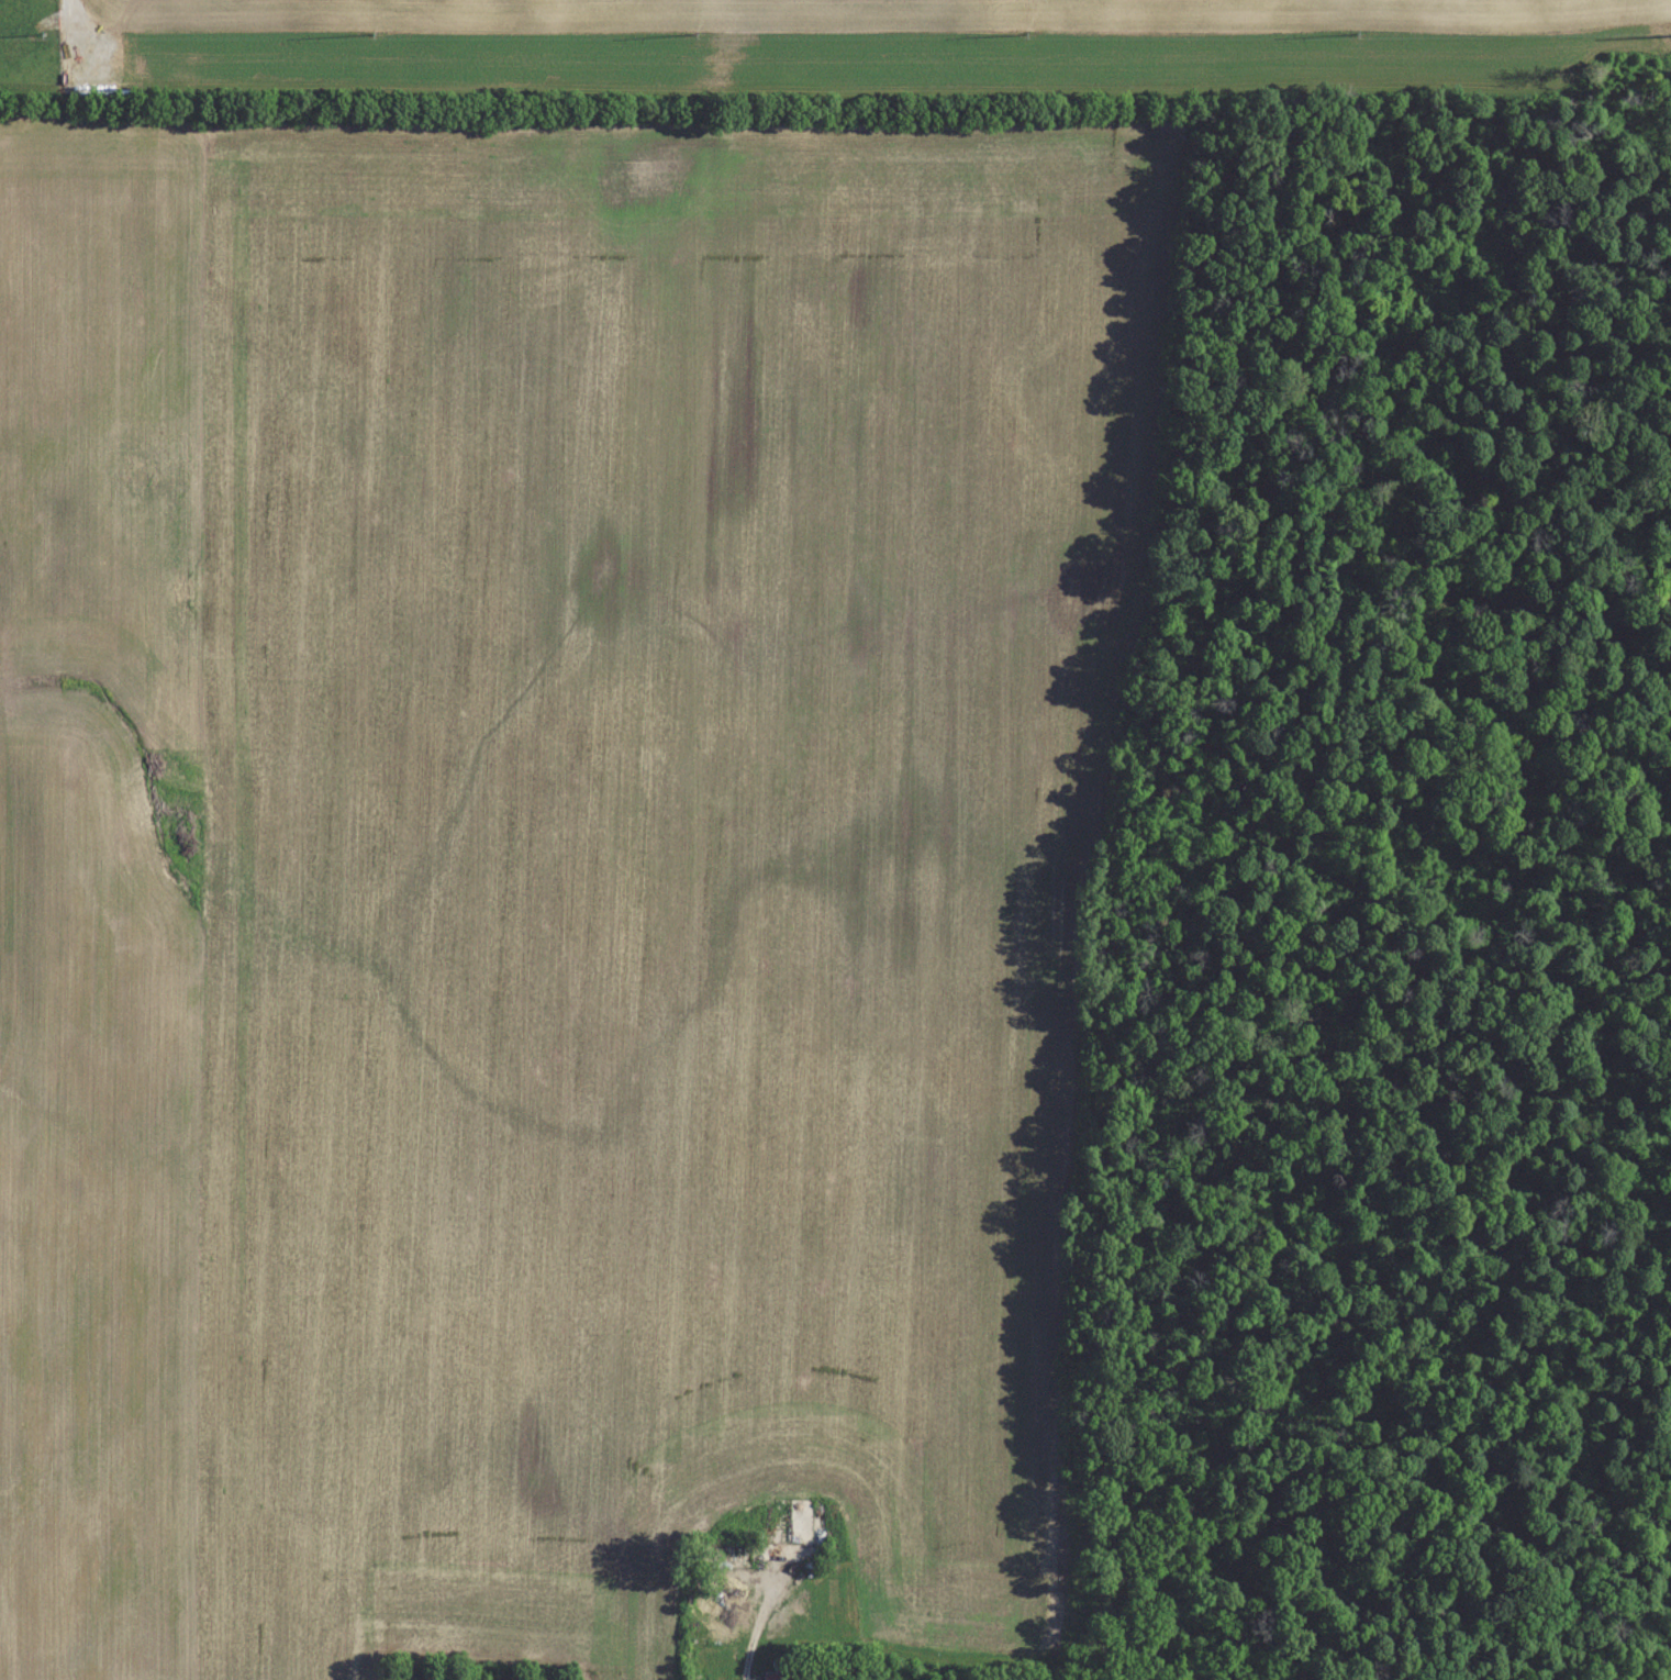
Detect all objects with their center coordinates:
building: (787, 1520)
road: (757, 1626)

